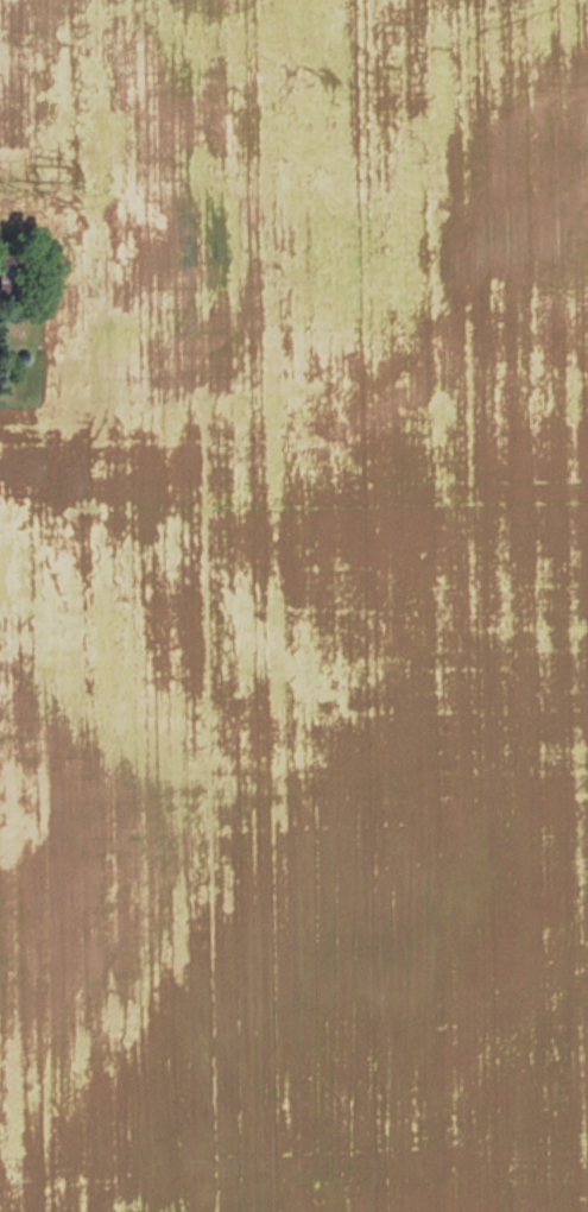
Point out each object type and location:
building: (13, 278)

